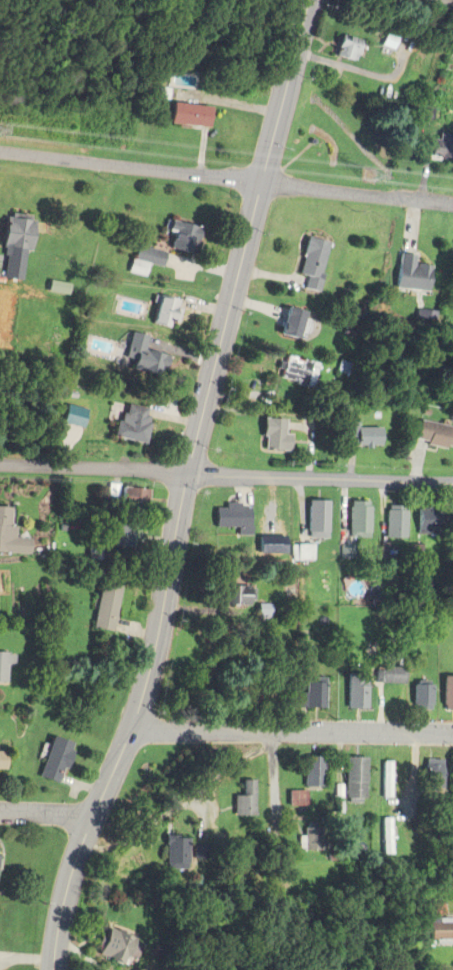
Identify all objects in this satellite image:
building: (339, 48)
building: (183, 115)
building: (434, 148)
road: (226, 177)
building: (11, 231)
building: (178, 237)
building: (142, 260)
building: (306, 262)
building: (409, 274)
building: (160, 313)
building: (283, 323)
building: (136, 358)
building: (291, 370)
building: (126, 423)
building: (267, 435)
building: (357, 435)
building: (431, 435)
road: (94, 470)
road: (320, 478)
road: (185, 487)
building: (126, 498)
building: (229, 517)
building: (311, 517)
building: (353, 518)
building: (420, 519)
building: (389, 520)
building: (450, 520)
building: (8, 538)
building: (119, 538)
building: (298, 550)
building: (286, 584)
building: (234, 594)
building: (101, 607)
building: (257, 611)
building: (7, 666)
building: (385, 674)
building: (350, 689)
building: (444, 691)
building: (305, 693)
building: (415, 695)
road: (292, 728)
building: (49, 759)
building: (6, 761)
building: (306, 770)
building: (426, 772)
road: (267, 777)
building: (347, 778)
building: (380, 778)
building: (289, 797)
building: (237, 799)
road: (47, 812)
building: (379, 835)
building: (297, 841)
building: (169, 851)
building: (430, 927)
building: (106, 945)

